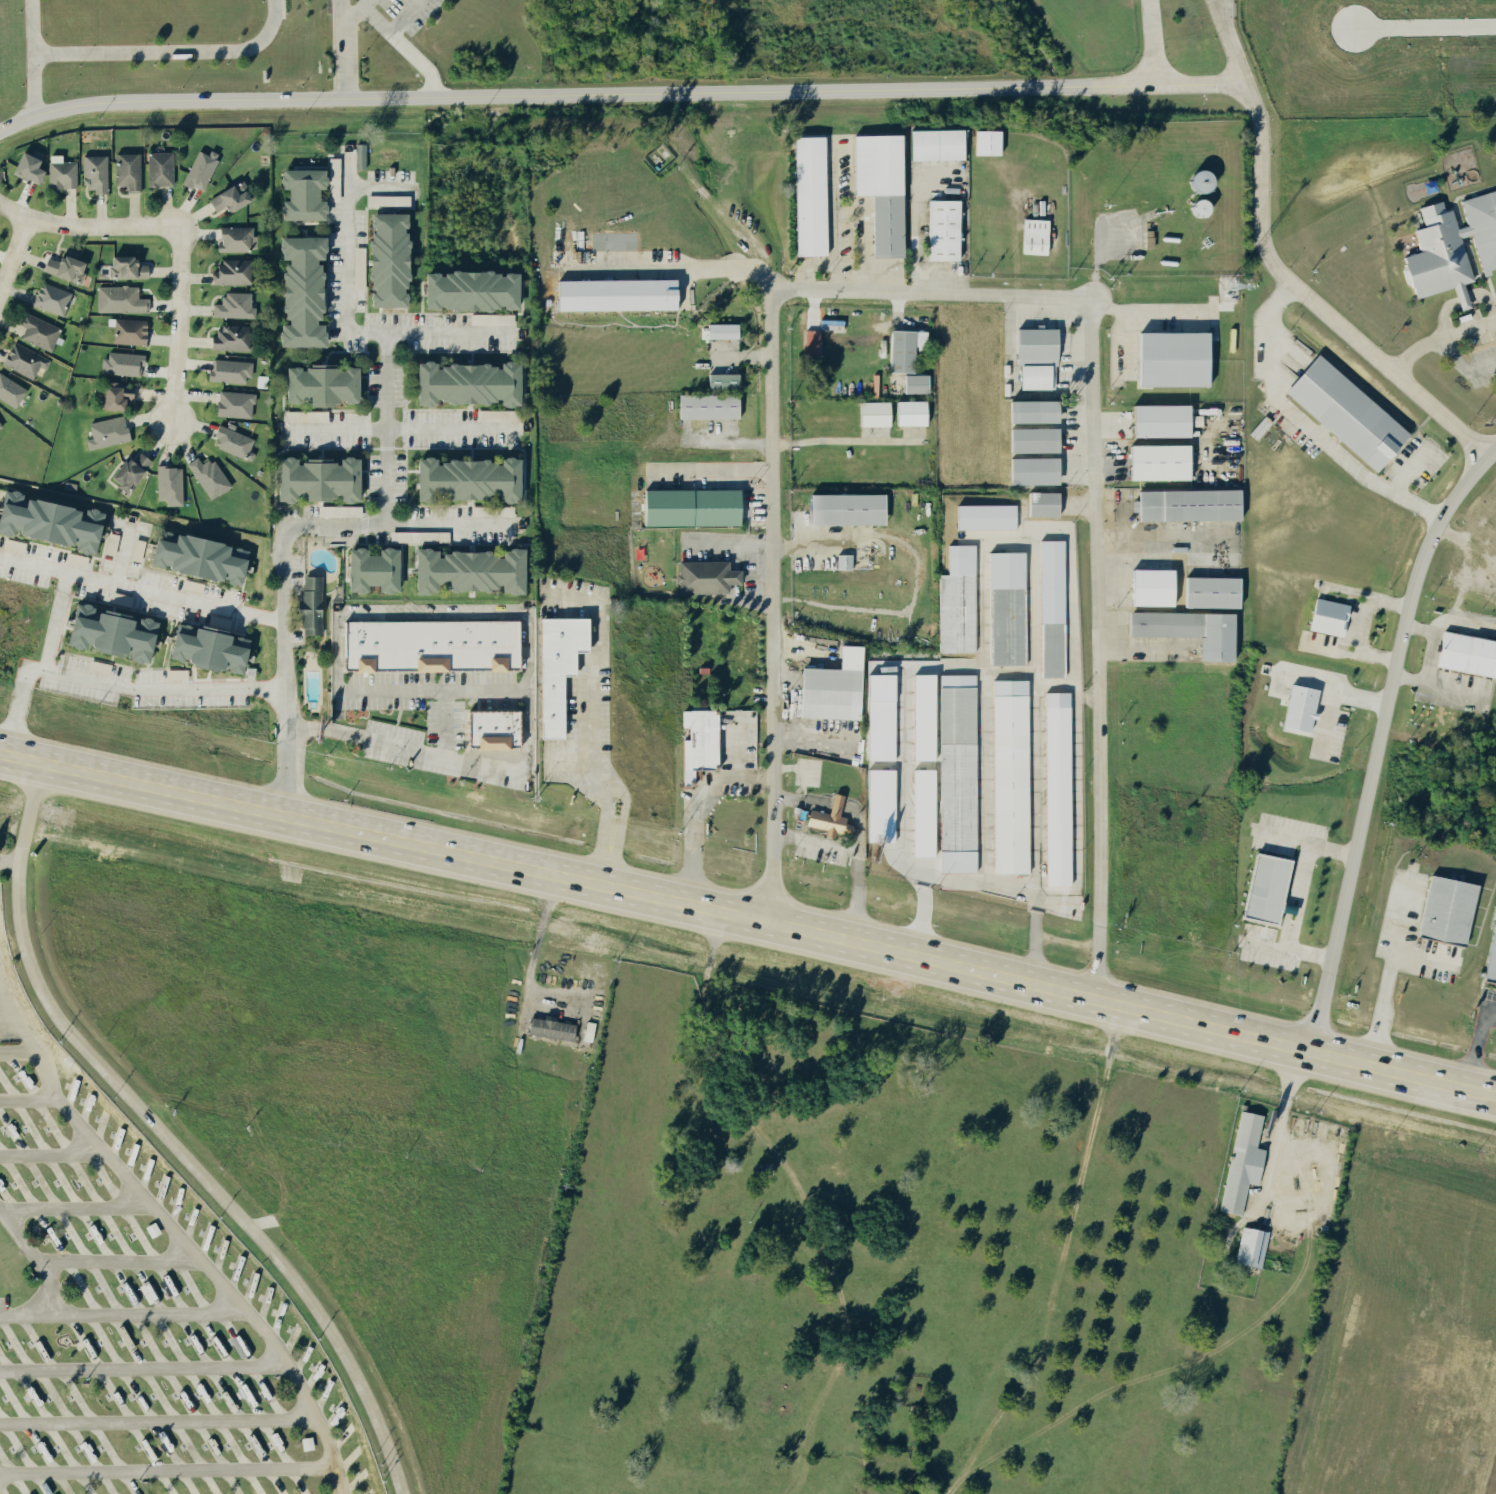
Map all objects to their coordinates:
road: (1225, 6)
road: (373, 7)
road: (412, 19)
road: (30, 26)
road: (1232, 39)
road: (1154, 41)
road: (398, 43)
road: (342, 49)
road: (166, 50)
road: (1205, 80)
road: (34, 83)
road: (341, 99)
building: (984, 141)
building: (933, 143)
building: (359, 155)
building: (25, 165)
building: (158, 168)
building: (198, 169)
building: (126, 170)
building: (60, 172)
building: (93, 172)
building: (1196, 180)
building: (878, 188)
building: (299, 193)
building: (807, 195)
building: (226, 197)
building: (386, 200)
road: (833, 220)
road: (100, 229)
building: (940, 229)
building: (1032, 236)
building: (234, 238)
road: (15, 241)
building: (1451, 246)
building: (384, 259)
building: (61, 267)
building: (124, 267)
building: (230, 271)
road: (670, 273)
building: (467, 289)
building: (299, 291)
building: (612, 294)
road: (960, 295)
building: (49, 298)
building: (118, 299)
building: (232, 305)
building: (490, 318)
road: (176, 327)
road: (343, 328)
building: (720, 330)
building: (36, 331)
building: (127, 331)
building: (229, 337)
road: (1438, 339)
building: (902, 348)
building: (1034, 357)
building: (1169, 358)
building: (22, 359)
building: (120, 363)
road: (1462, 367)
building: (227, 370)
building: (720, 380)
building: (463, 383)
building: (914, 383)
building: (317, 384)
building: (9, 391)
building: (113, 395)
road: (1269, 400)
building: (233, 404)
building: (705, 406)
building: (1029, 410)
building: (907, 412)
building: (1343, 412)
building: (871, 413)
building: (304, 415)
building: (1157, 420)
road: (383, 427)
building: (0, 428)
road: (397, 428)
building: (105, 432)
building: (1030, 439)
building: (231, 442)
road: (844, 442)
building: (1156, 461)
road: (712, 466)
building: (1030, 470)
building: (126, 472)
building: (206, 476)
building: (313, 479)
building: (463, 479)
building: (167, 484)
road: (1405, 498)
building: (1040, 503)
building: (1184, 504)
building: (689, 507)
building: (843, 509)
building: (338, 511)
building: (983, 516)
building: (47, 522)
road: (384, 522)
building: (418, 536)
road: (733, 539)
road: (982, 543)
building: (194, 557)
building: (842, 561)
road: (37, 569)
building: (368, 569)
building: (465, 570)
building: (704, 576)
road: (916, 576)
building: (1149, 587)
road: (735, 588)
road: (128, 590)
building: (1208, 592)
building: (955, 601)
building: (309, 605)
road: (1365, 606)
building: (1005, 608)
building: (1051, 608)
building: (1326, 616)
building: (1186, 630)
building: (106, 632)
building: (428, 645)
building: (204, 648)
road: (1350, 651)
building: (1466, 654)
building: (553, 668)
road: (284, 684)
road: (1051, 685)
road: (112, 687)
road: (422, 687)
road: (1332, 687)
building: (825, 693)
road: (1083, 693)
building: (1297, 709)
building: (920, 716)
building: (877, 717)
road: (1325, 719)
road: (442, 721)
road: (590, 727)
building: (491, 729)
road: (1377, 738)
road: (737, 745)
road: (985, 753)
building: (955, 773)
road: (1073, 775)
building: (1008, 776)
building: (1055, 788)
road: (804, 803)
building: (878, 804)
road: (841, 808)
road: (697, 810)
building: (921, 812)
building: (824, 817)
road: (1303, 840)
road: (818, 845)
road: (10, 864)
road: (862, 873)
building: (1263, 888)
road: (1299, 895)
road: (654, 900)
building: (1444, 909)
road: (1286, 948)
road: (1424, 957)
building: (1491, 957)
road: (529, 959)
road: (1389, 968)
road: (8, 1022)
building: (548, 1028)
road: (1475, 1043)
road: (1401, 1069)
road: (34, 1091)
road: (1280, 1122)
road: (171, 1139)
road: (55, 1148)
building: (1241, 1162)
road: (88, 1202)
road: (195, 1231)
road: (36, 1242)
building: (1250, 1246)
road: (132, 1257)
road: (1064, 1262)
road: (125, 1303)
road: (143, 1359)
road: (159, 1420)
building: (305, 1442)
road: (170, 1465)
road: (2, 1481)

